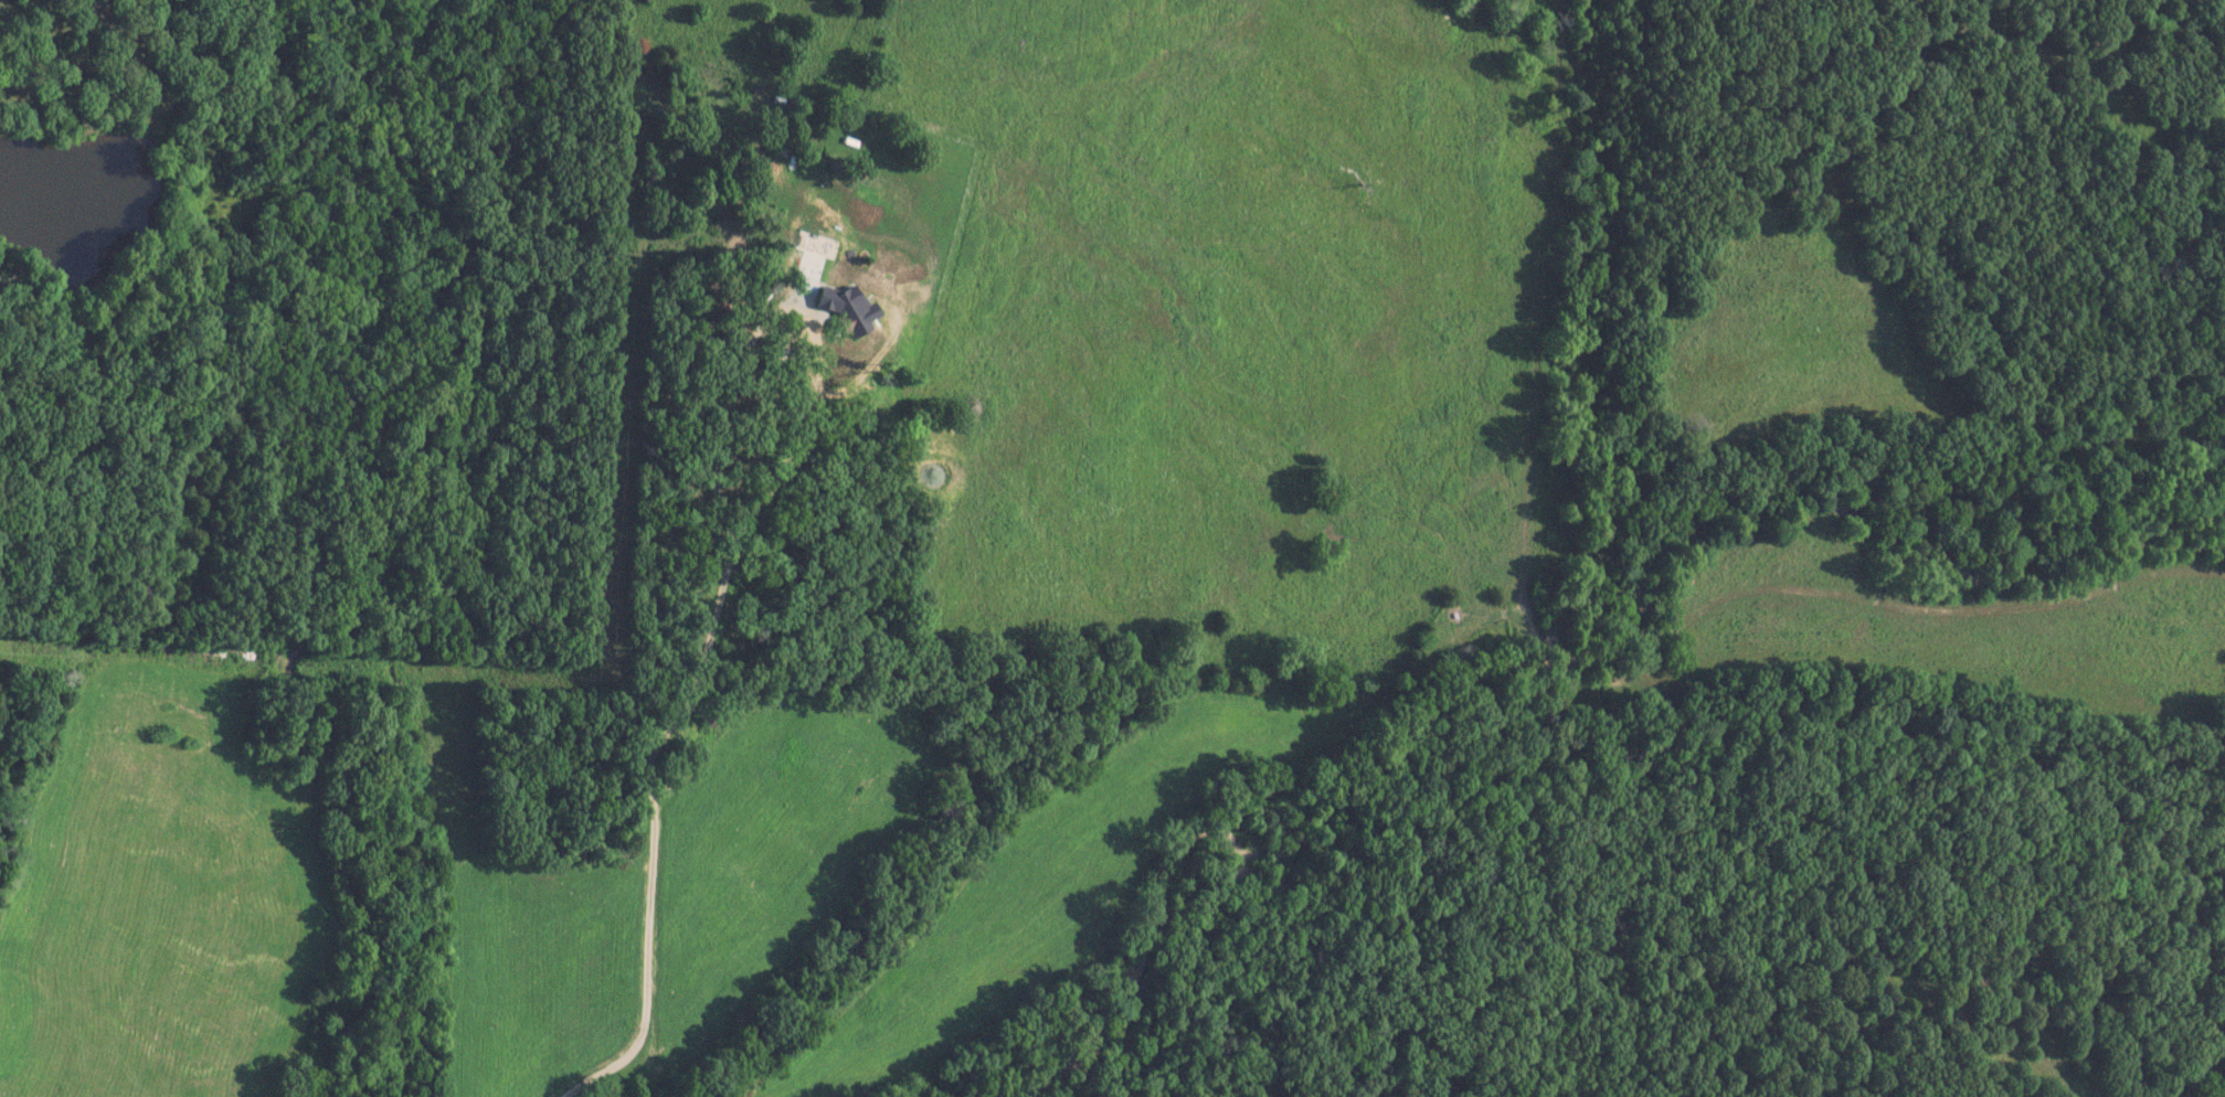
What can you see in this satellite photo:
building: (825, 221)
road: (786, 318)
road: (1941, 609)
road: (651, 826)

